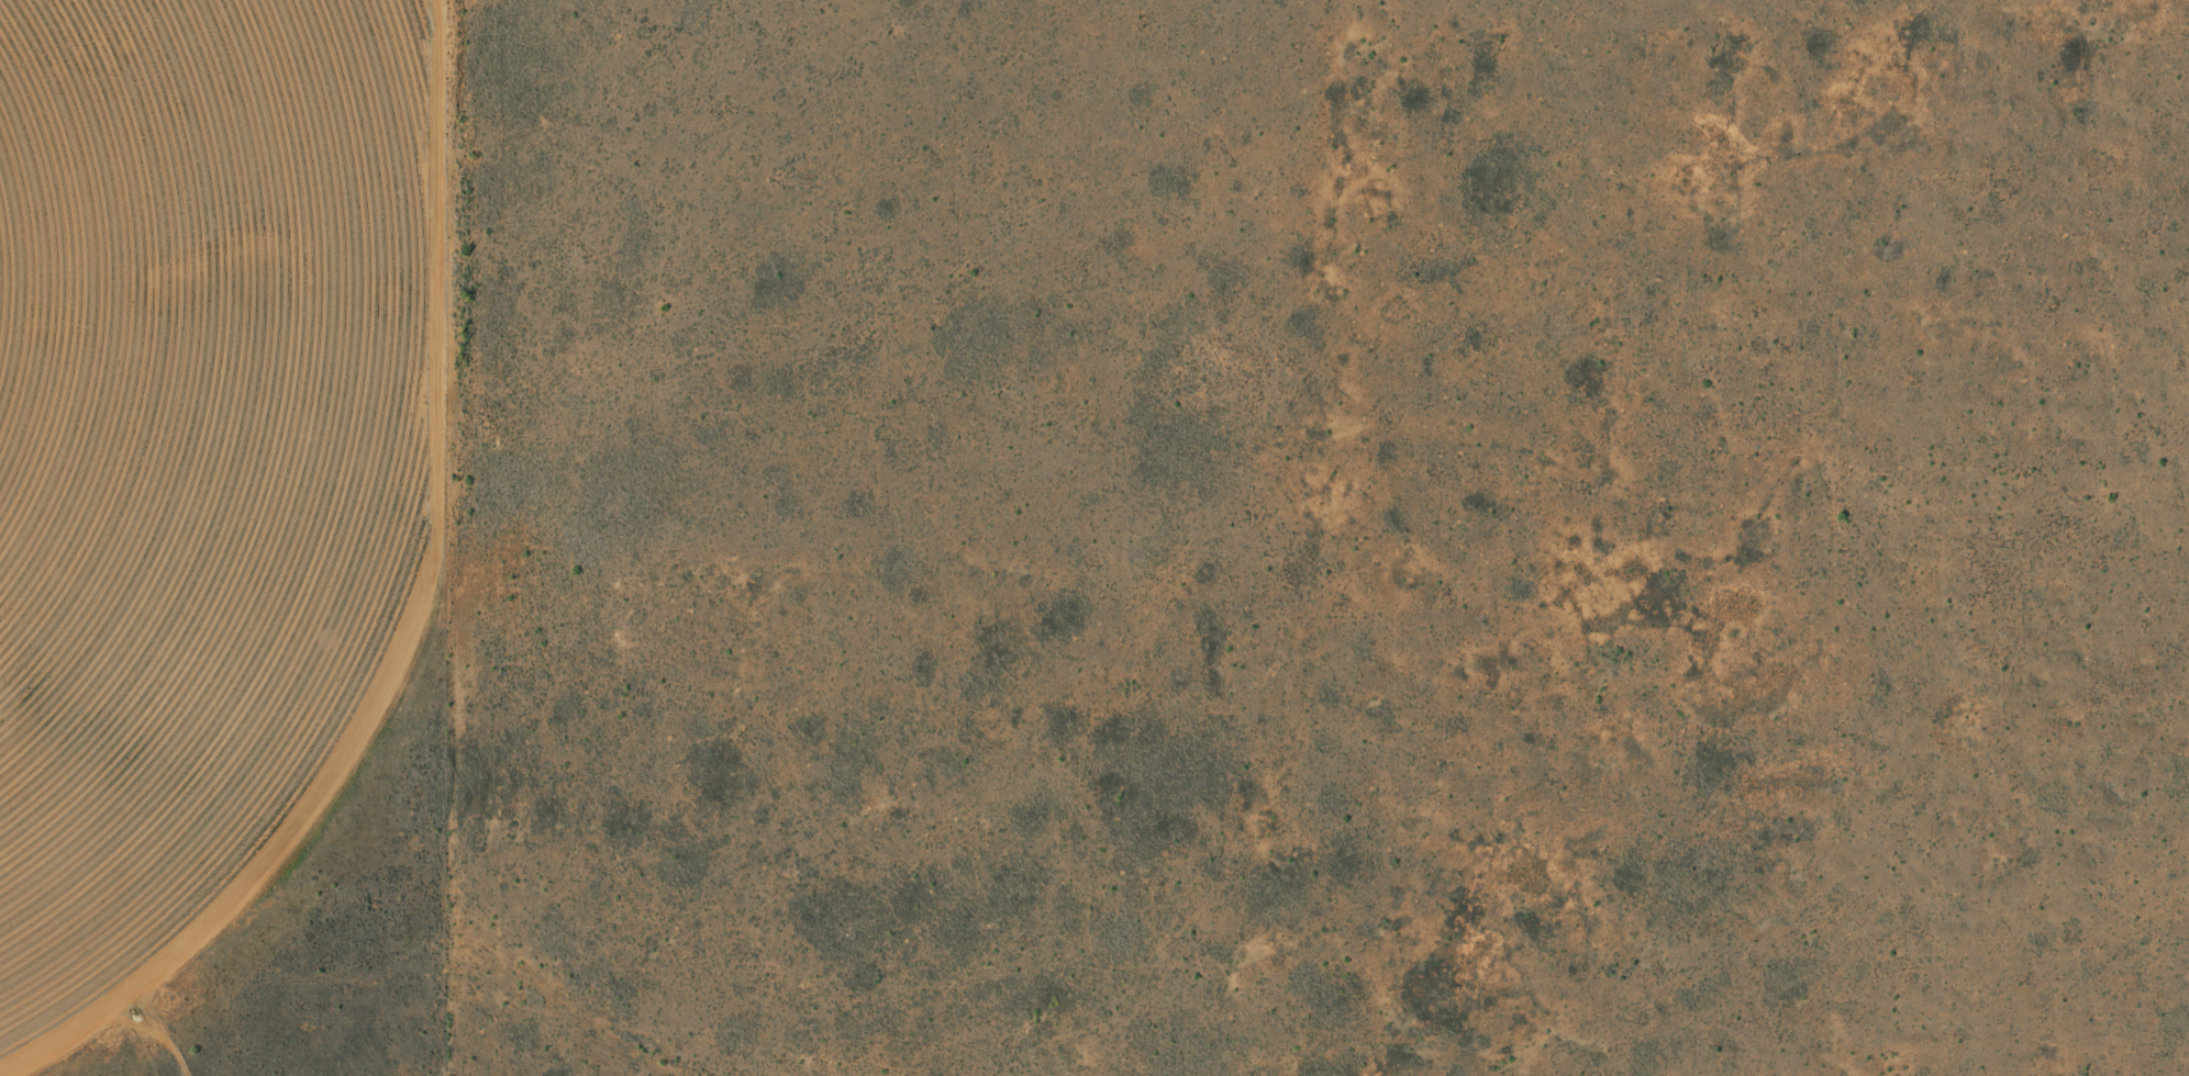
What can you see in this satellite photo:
road: (466, 536)

